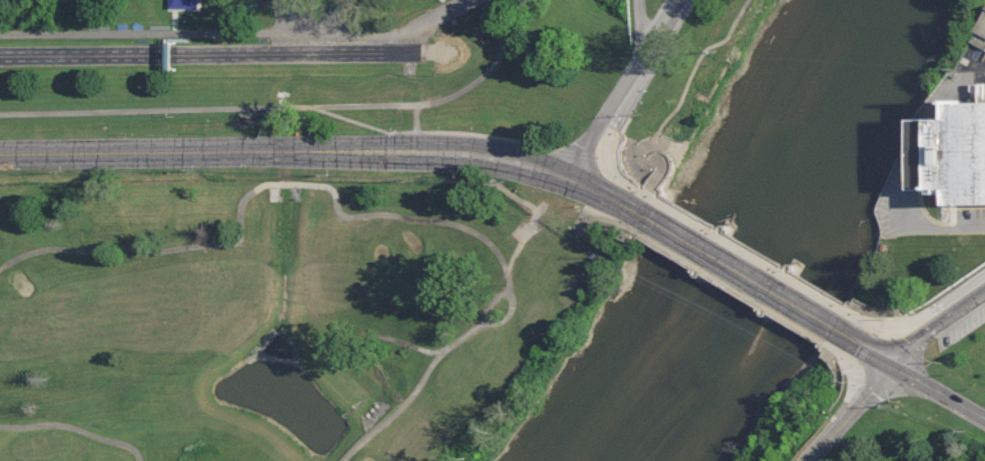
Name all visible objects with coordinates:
park: (308, 23)
road: (642, 23)
road: (240, 33)
building: (980, 34)
parking lot: (972, 60)
road: (974, 66)
road: (623, 90)
road: (626, 101)
road: (288, 108)
road: (668, 113)
road: (460, 132)
building: (955, 150)
road: (384, 157)
road: (171, 160)
road: (503, 161)
road: (900, 191)
road: (604, 194)
parking lot: (898, 203)
road: (595, 209)
parking lot: (970, 218)
road: (947, 226)
road: (280, 236)
river: (757, 237)
road: (128, 247)
road: (496, 249)
road: (750, 254)
road: (724, 286)
park: (395, 288)
road: (945, 302)
road: (494, 303)
park: (285, 316)
road: (935, 323)
parking lot: (961, 327)
road: (866, 349)
road: (827, 357)
road: (849, 367)
road: (938, 391)
park: (922, 403)
road: (850, 413)
road: (391, 418)
road: (75, 429)
road: (361, 448)

